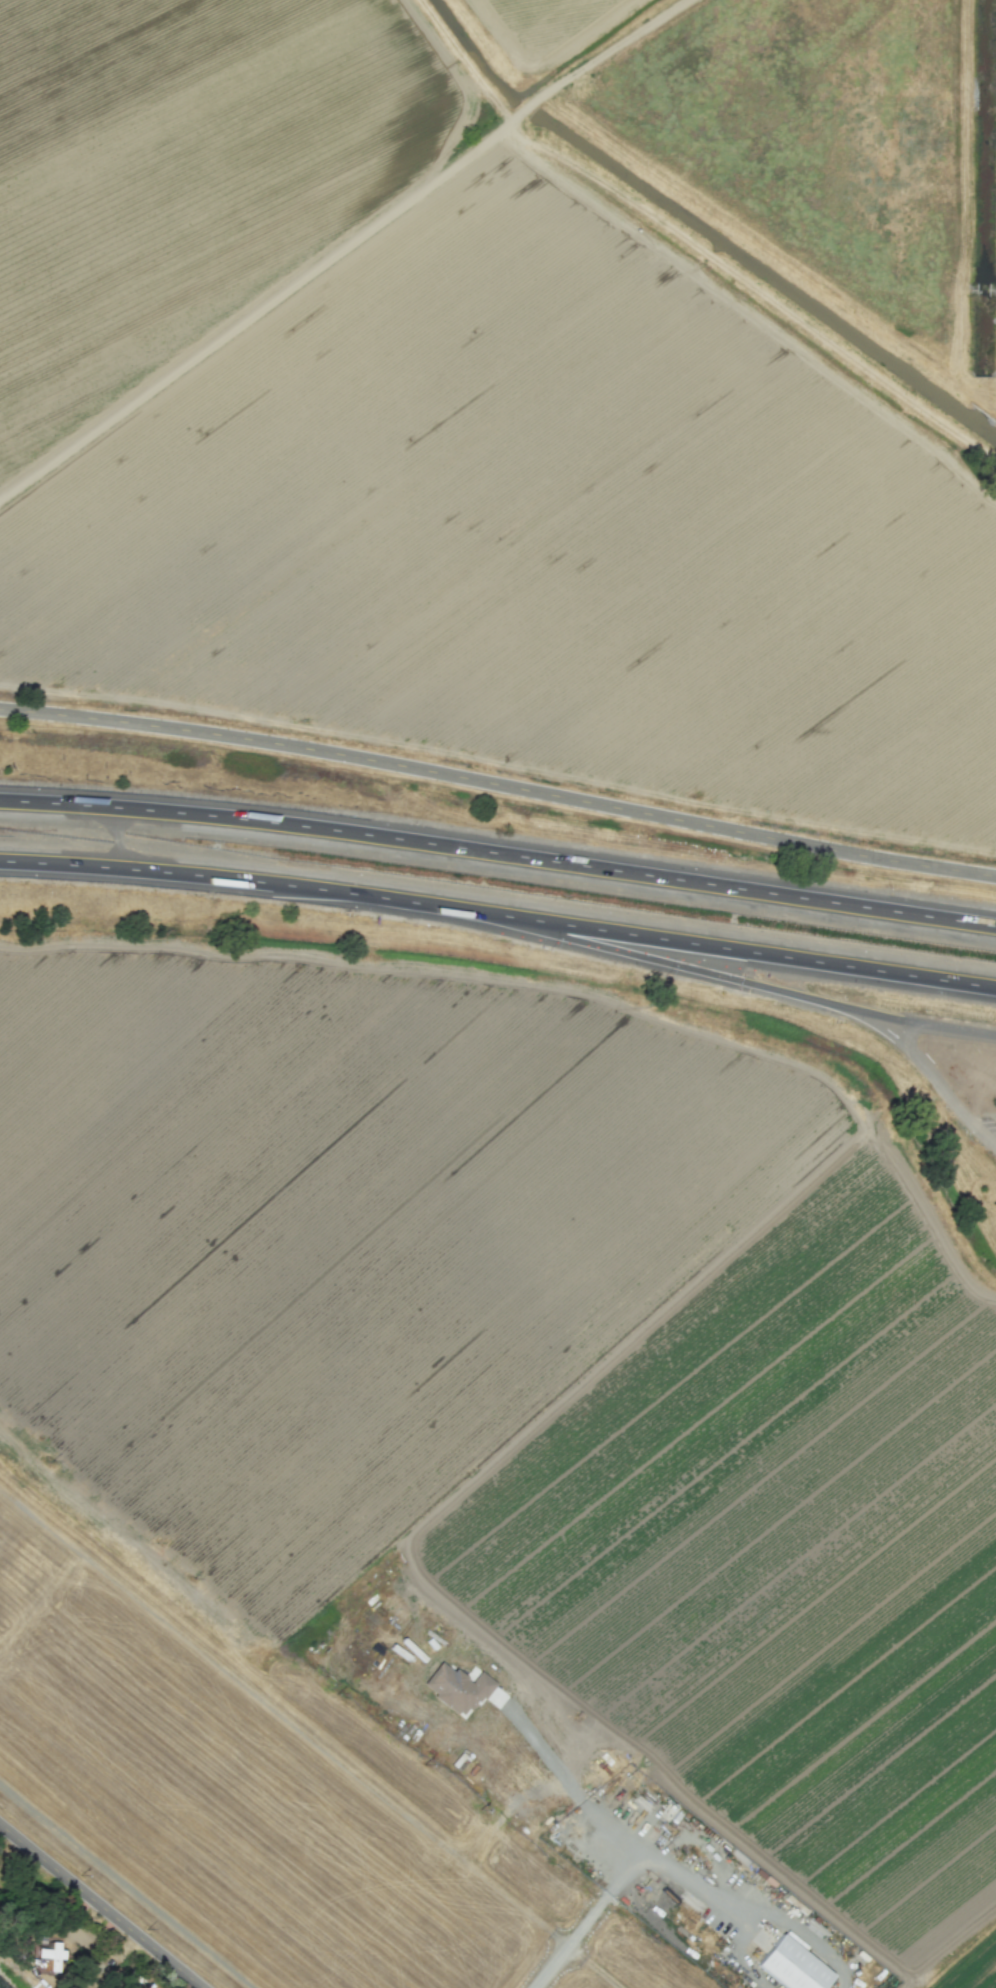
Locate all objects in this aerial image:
road: (351, 251)
road: (499, 784)
road: (499, 853)
road: (231, 877)
road: (728, 949)
road: (662, 961)
road: (930, 1027)
road: (934, 1076)
building: (455, 1688)
road: (634, 1848)
road: (693, 1879)
road: (104, 1904)
road: (807, 1935)
road: (740, 1952)
building: (791, 1966)

